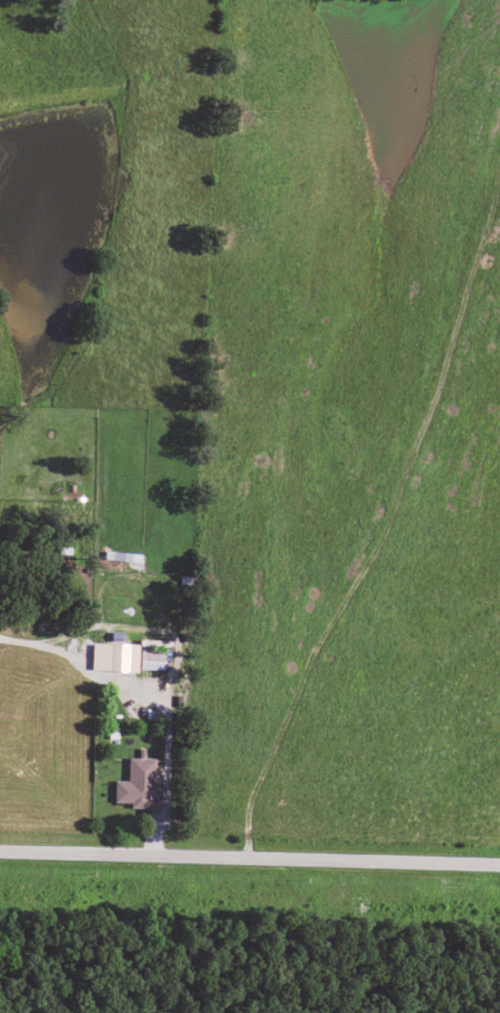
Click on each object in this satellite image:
road: (170, 752)
building: (135, 781)
road: (249, 855)

